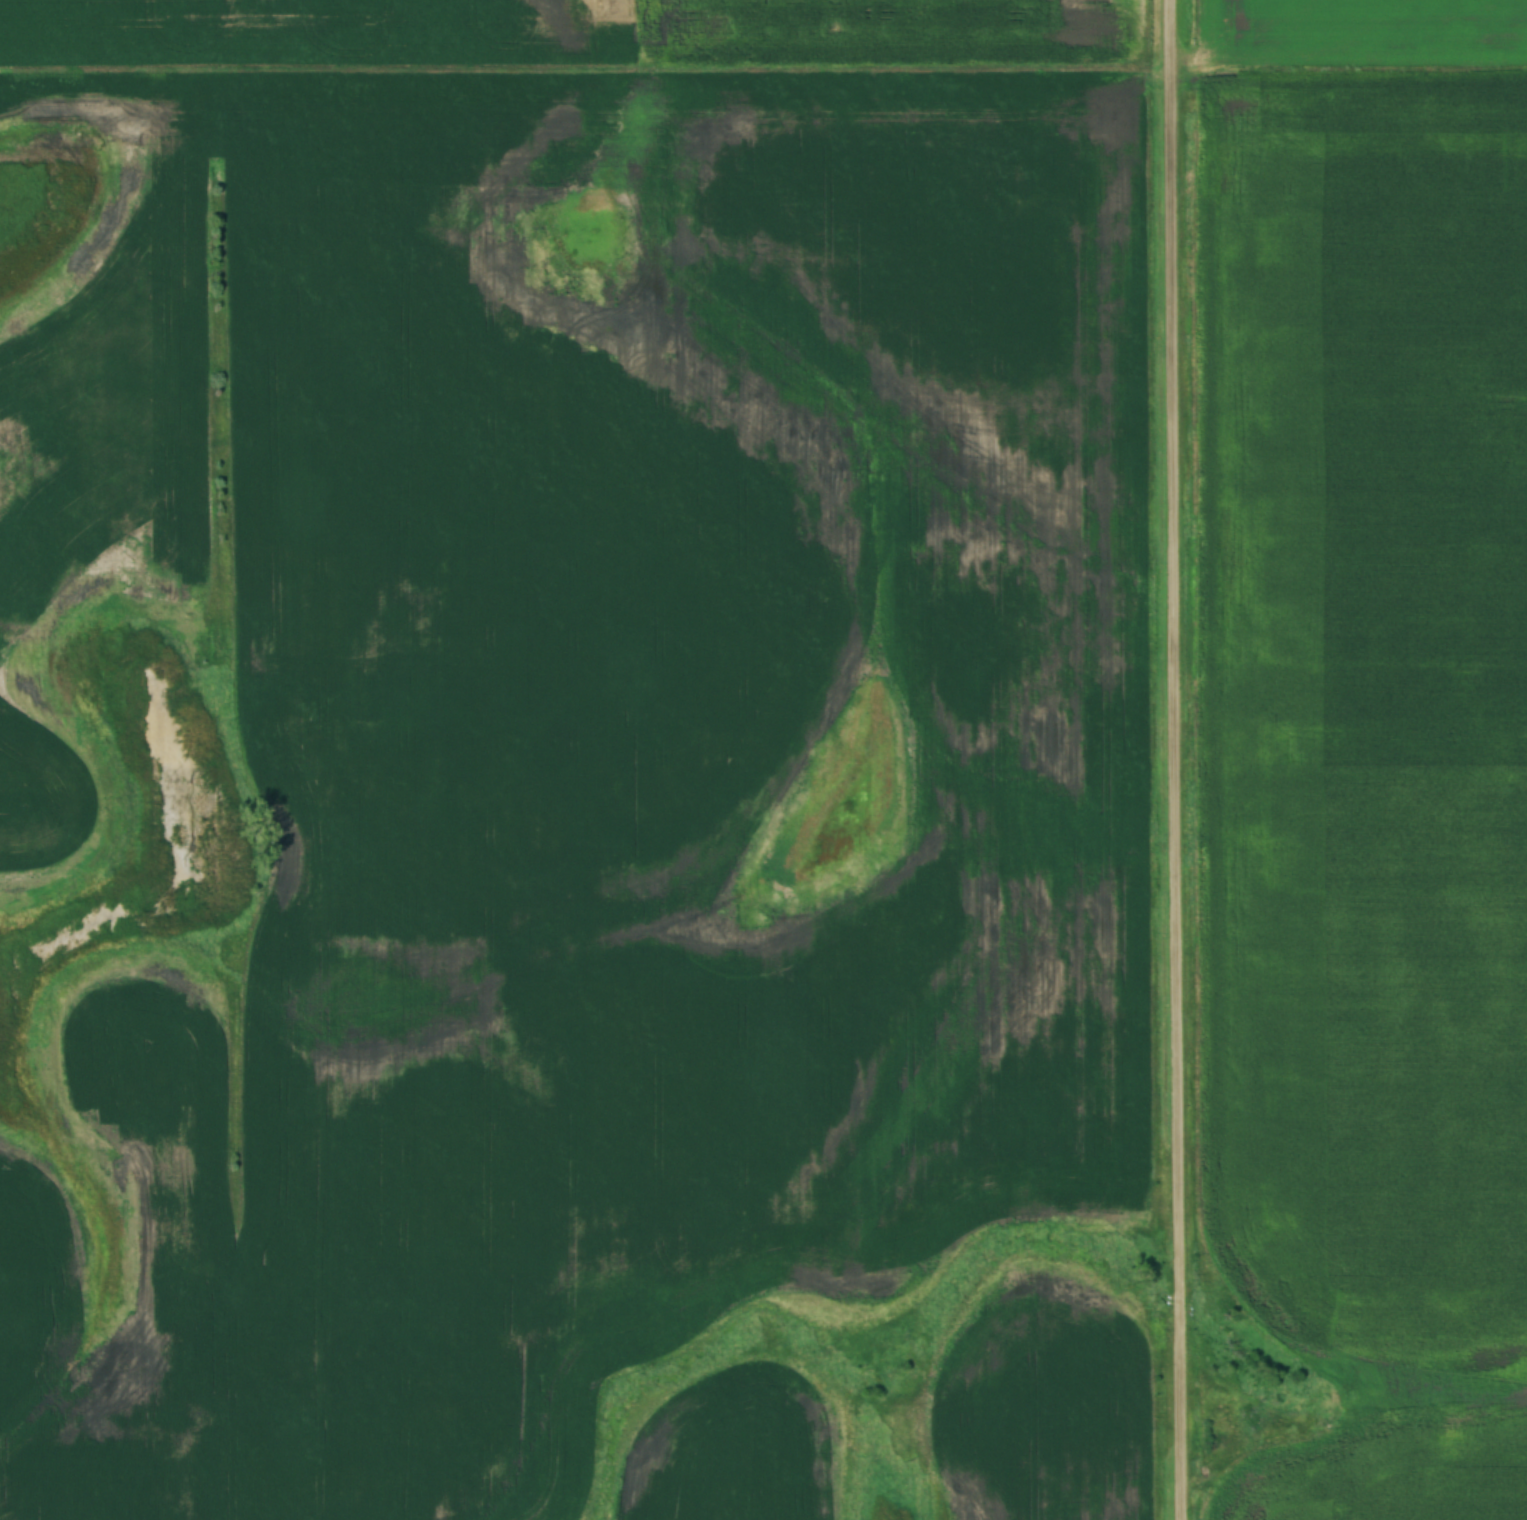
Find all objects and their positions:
road: (1170, 760)

